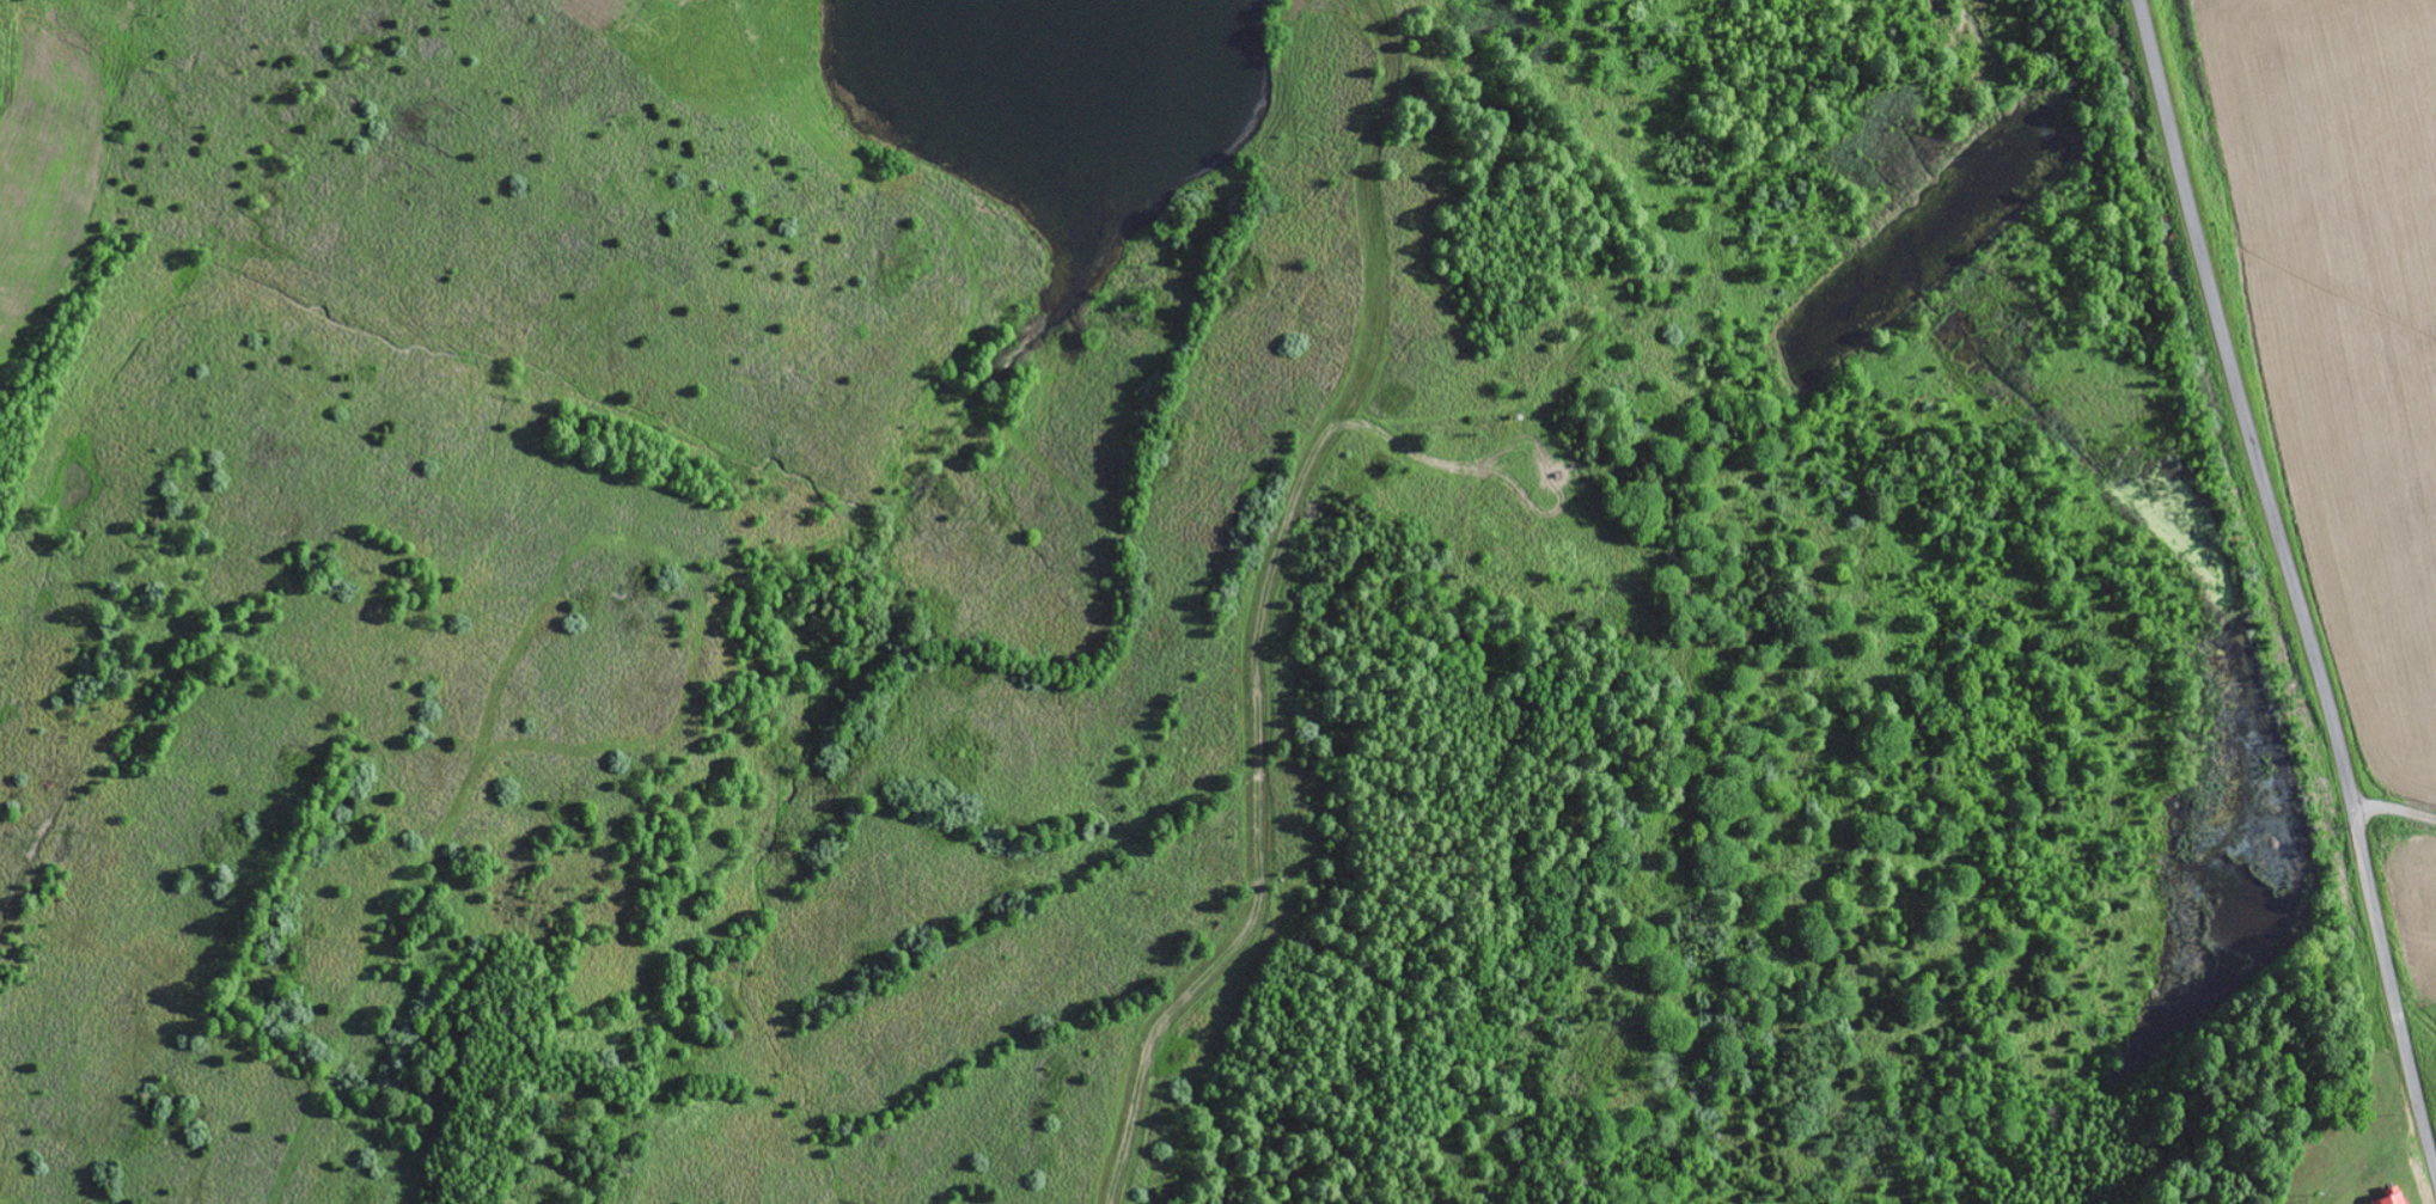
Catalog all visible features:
road: (2300, 586)
building: (2382, 1199)

